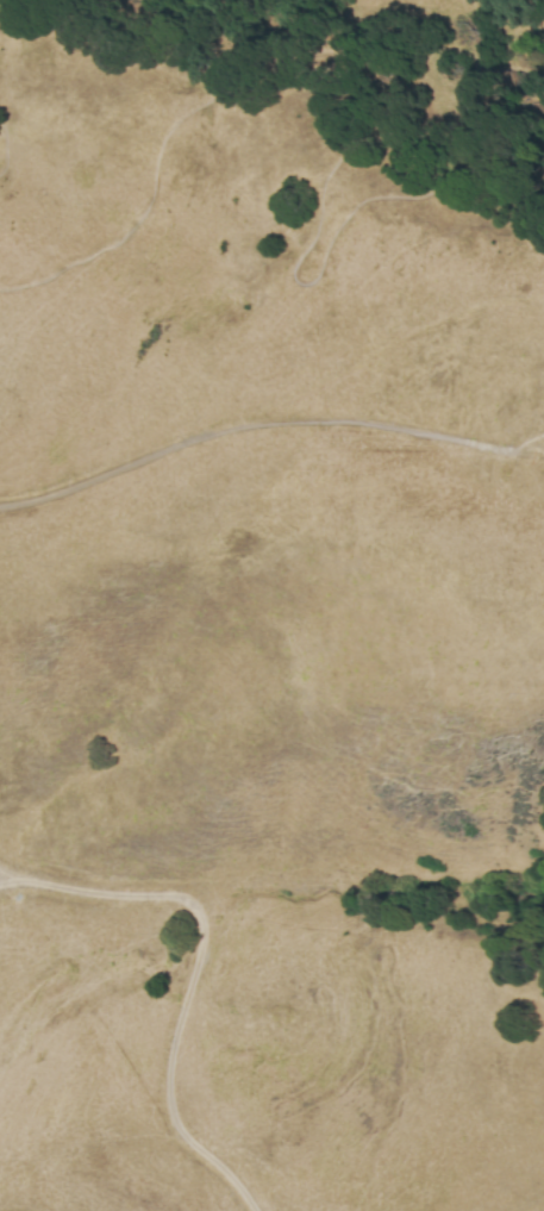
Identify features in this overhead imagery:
road: (7, 10)
road: (227, 87)
road: (2, 138)
road: (300, 261)
road: (255, 427)
road: (531, 444)
road: (531, 456)
road: (195, 967)
road: (332, 1042)

